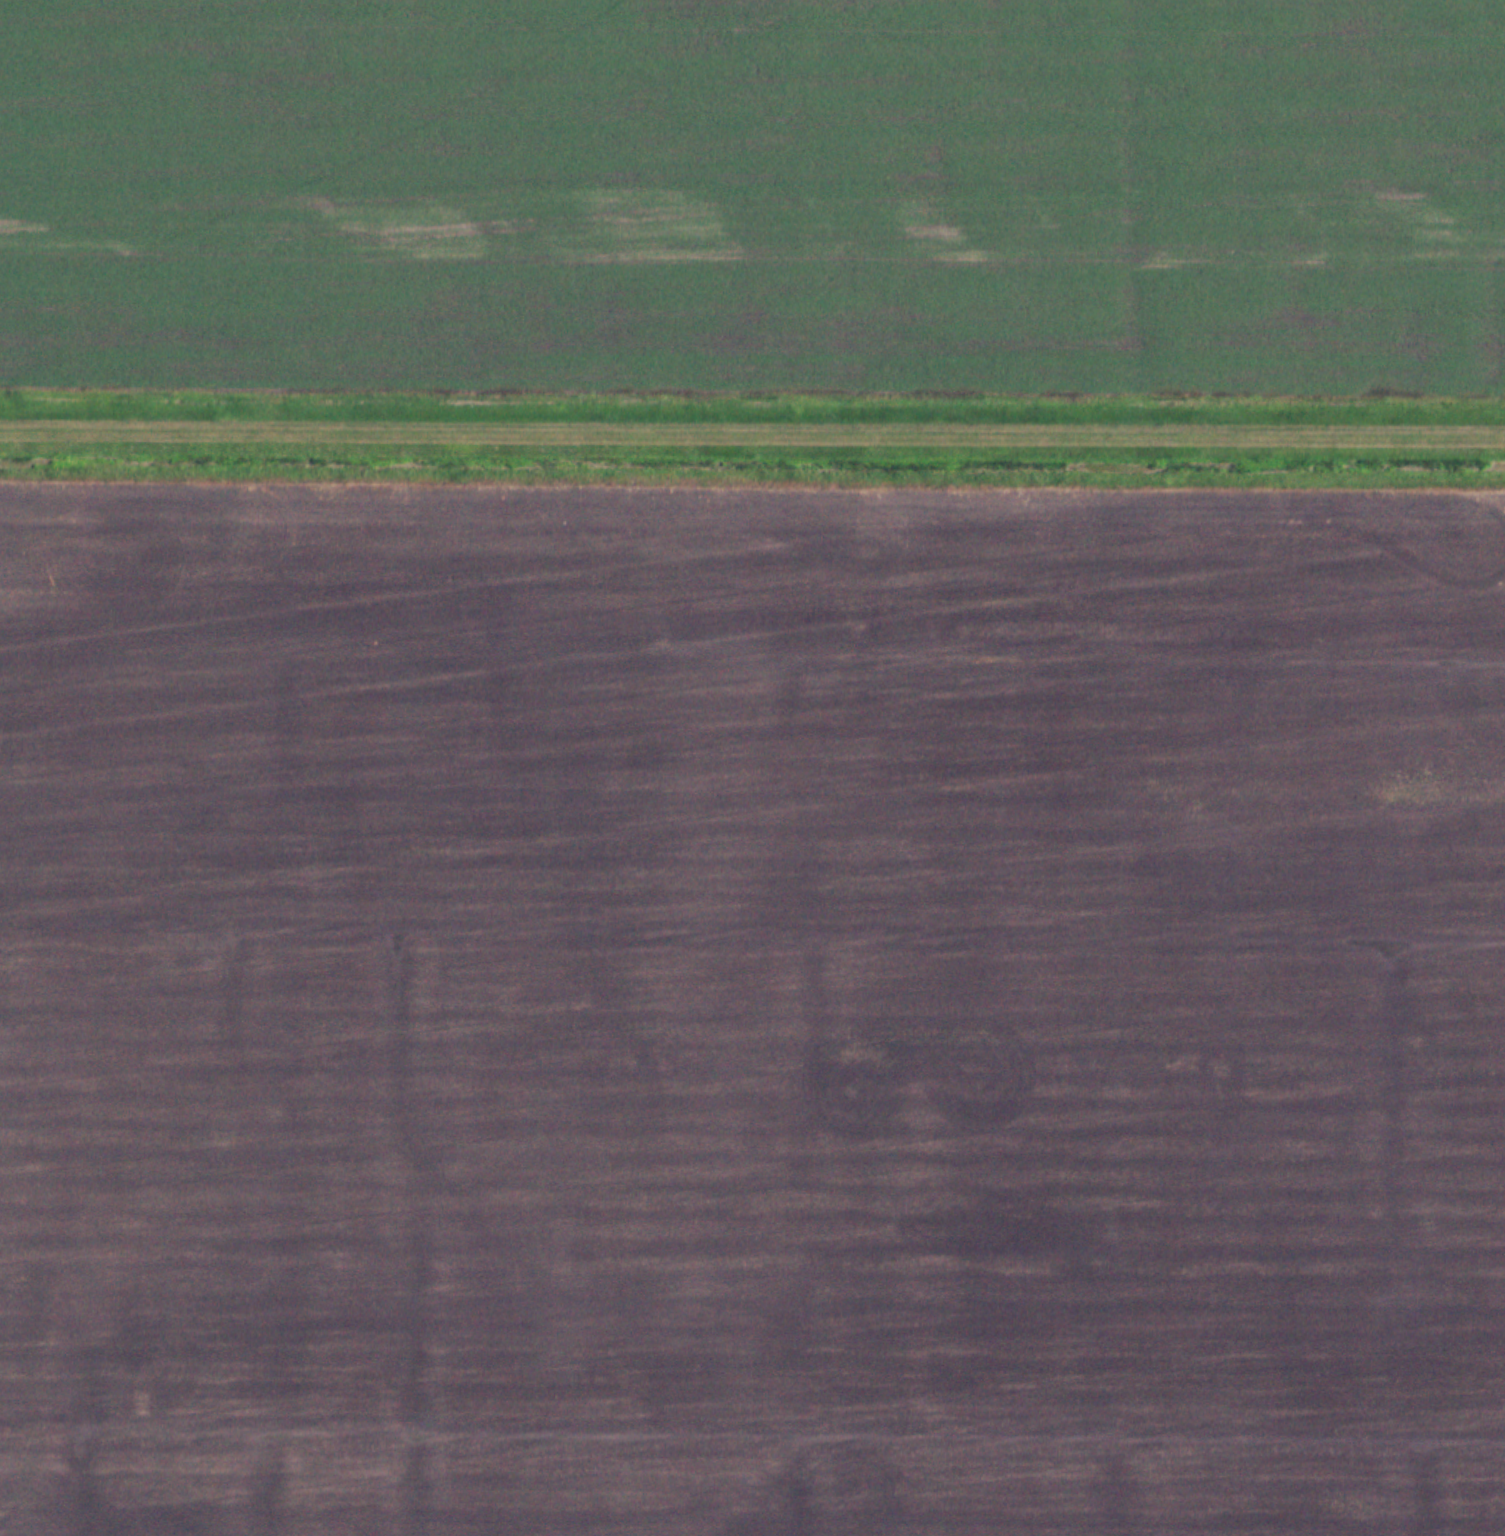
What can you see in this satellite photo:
crop: (755, 194)
road: (752, 424)
crop: (752, 1014)

